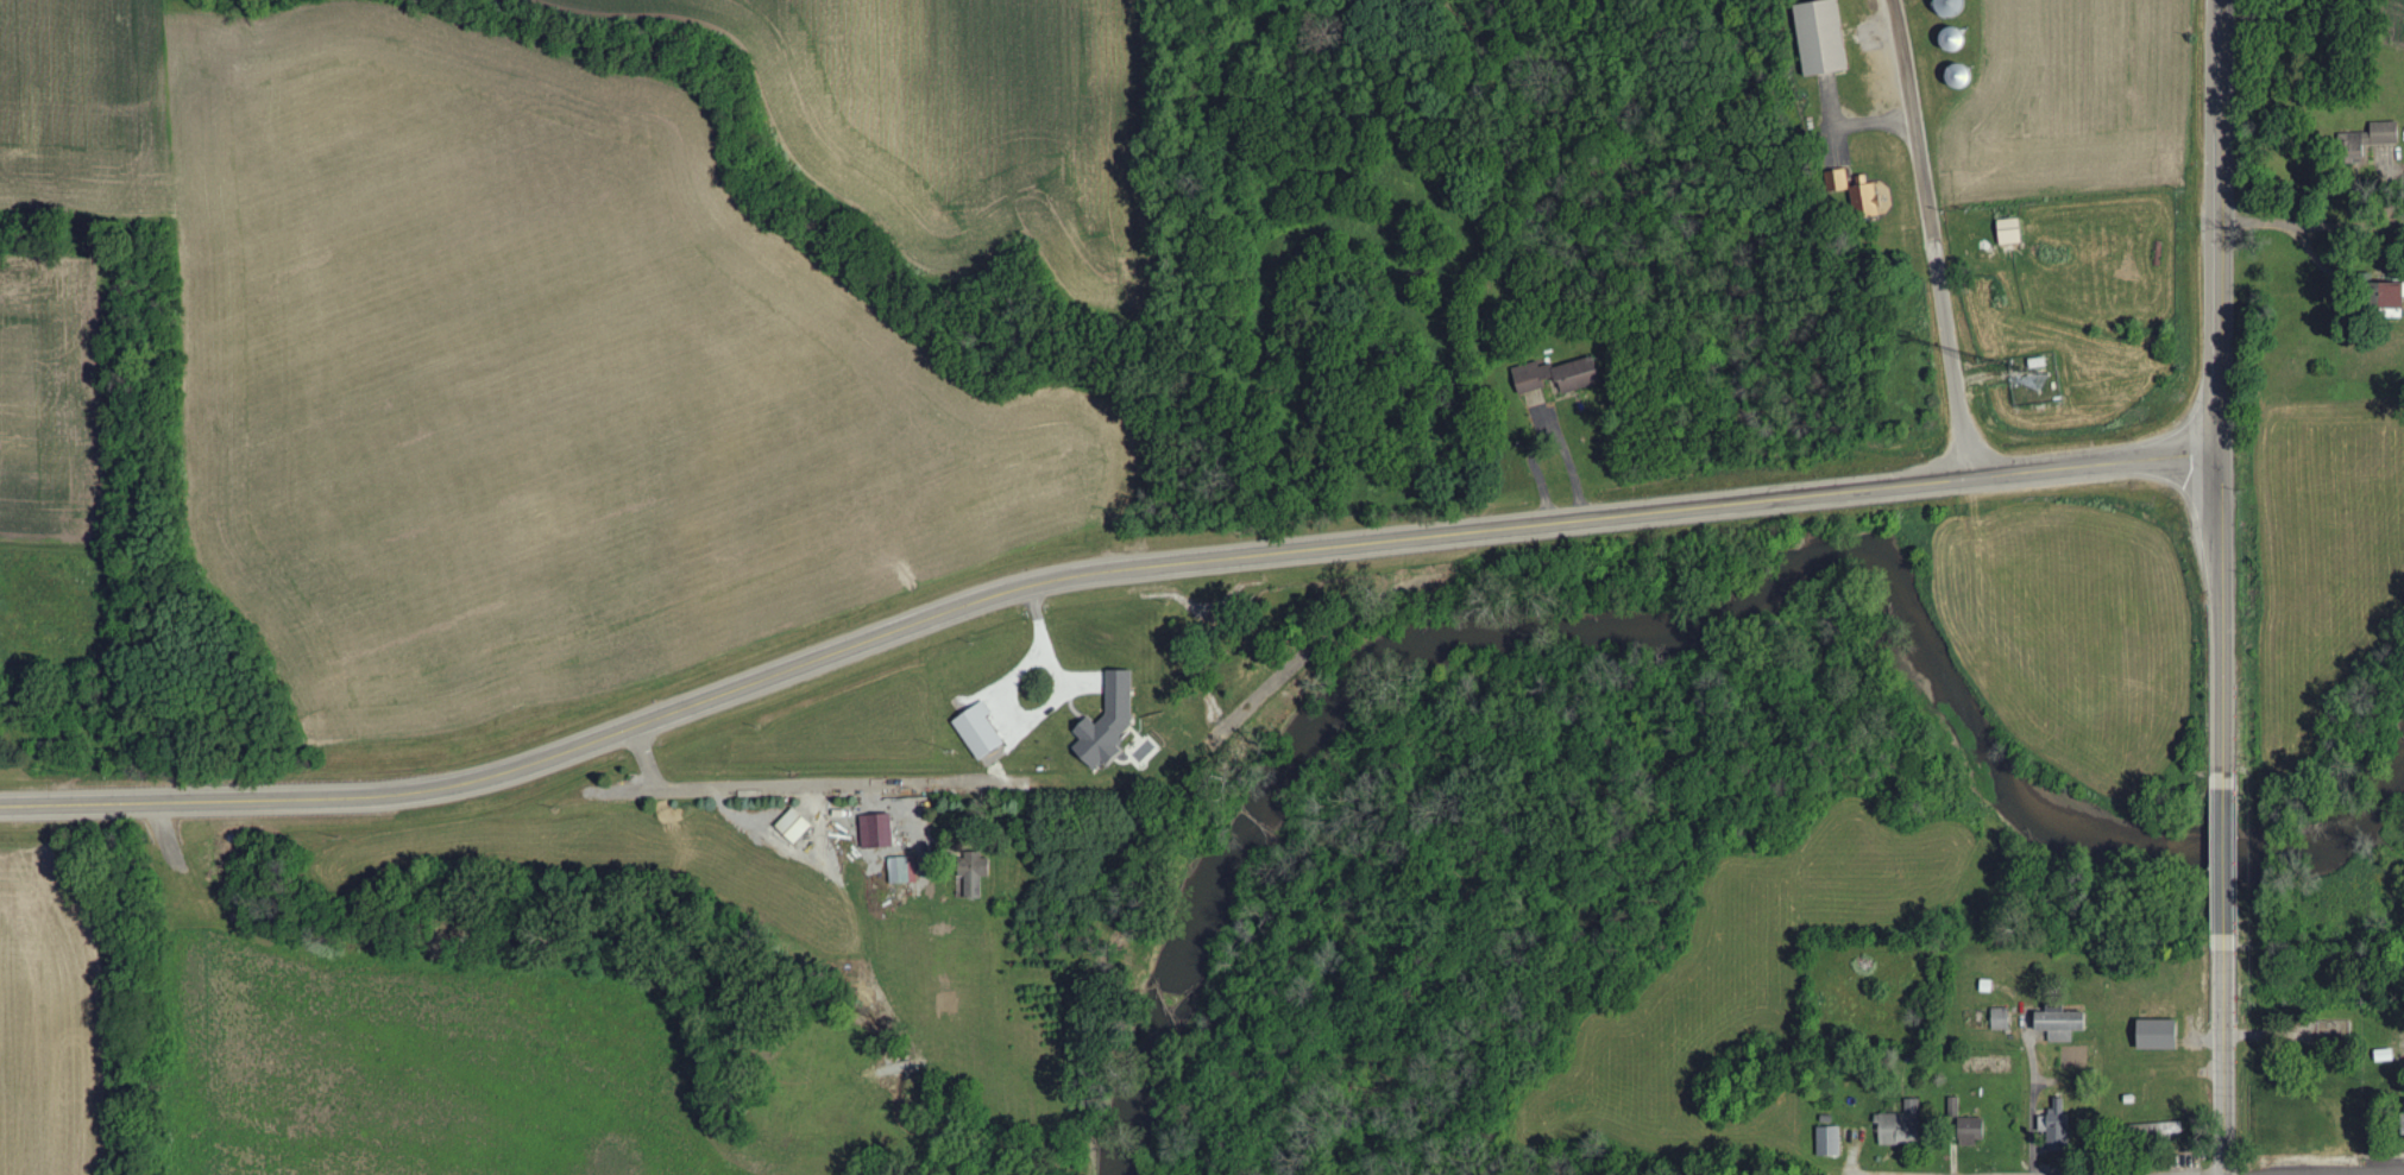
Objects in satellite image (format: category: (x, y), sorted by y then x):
building: (1958, 8)
building: (1827, 39)
building: (1959, 40)
building: (2378, 137)
building: (1842, 182)
road: (2216, 228)
building: (2014, 233)
road: (1933, 238)
building: (2400, 296)
building: (1562, 377)
road: (1091, 574)
road: (2216, 613)
building: (1113, 724)
building: (984, 733)
road: (728, 789)
building: (799, 827)
building: (881, 833)
road: (2220, 868)
building: (902, 872)
building: (2005, 1021)
building: (2066, 1024)
road: (2219, 1070)
road: (2034, 1103)
building: (1905, 1125)
building: (2060, 1127)
building: (2169, 1130)
building: (1832, 1142)
road: (1877, 1174)
road: (2063, 1174)
road: (2359, 1174)
road: (2364, 1174)

